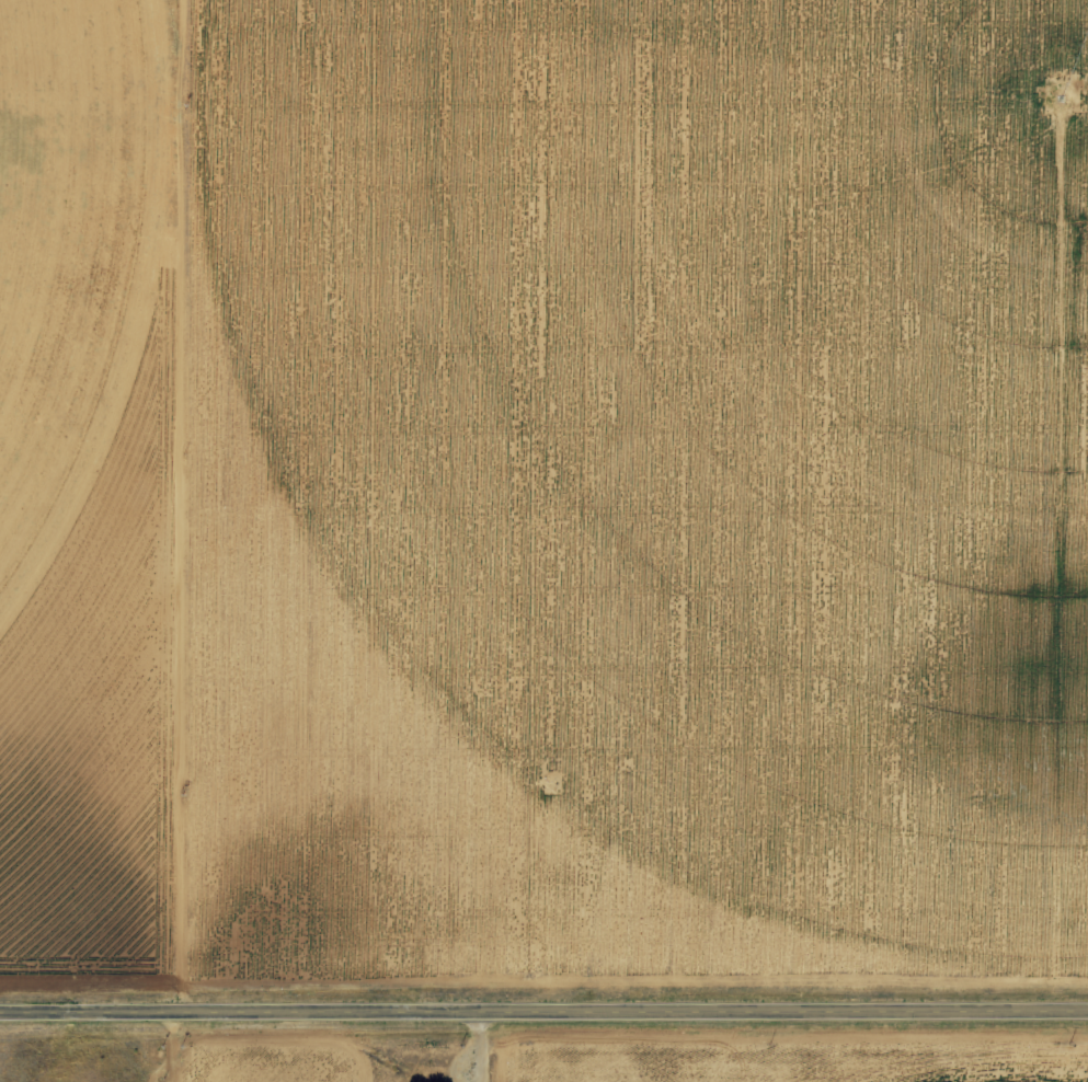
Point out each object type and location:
road: (543, 1020)
road: (478, 1050)

